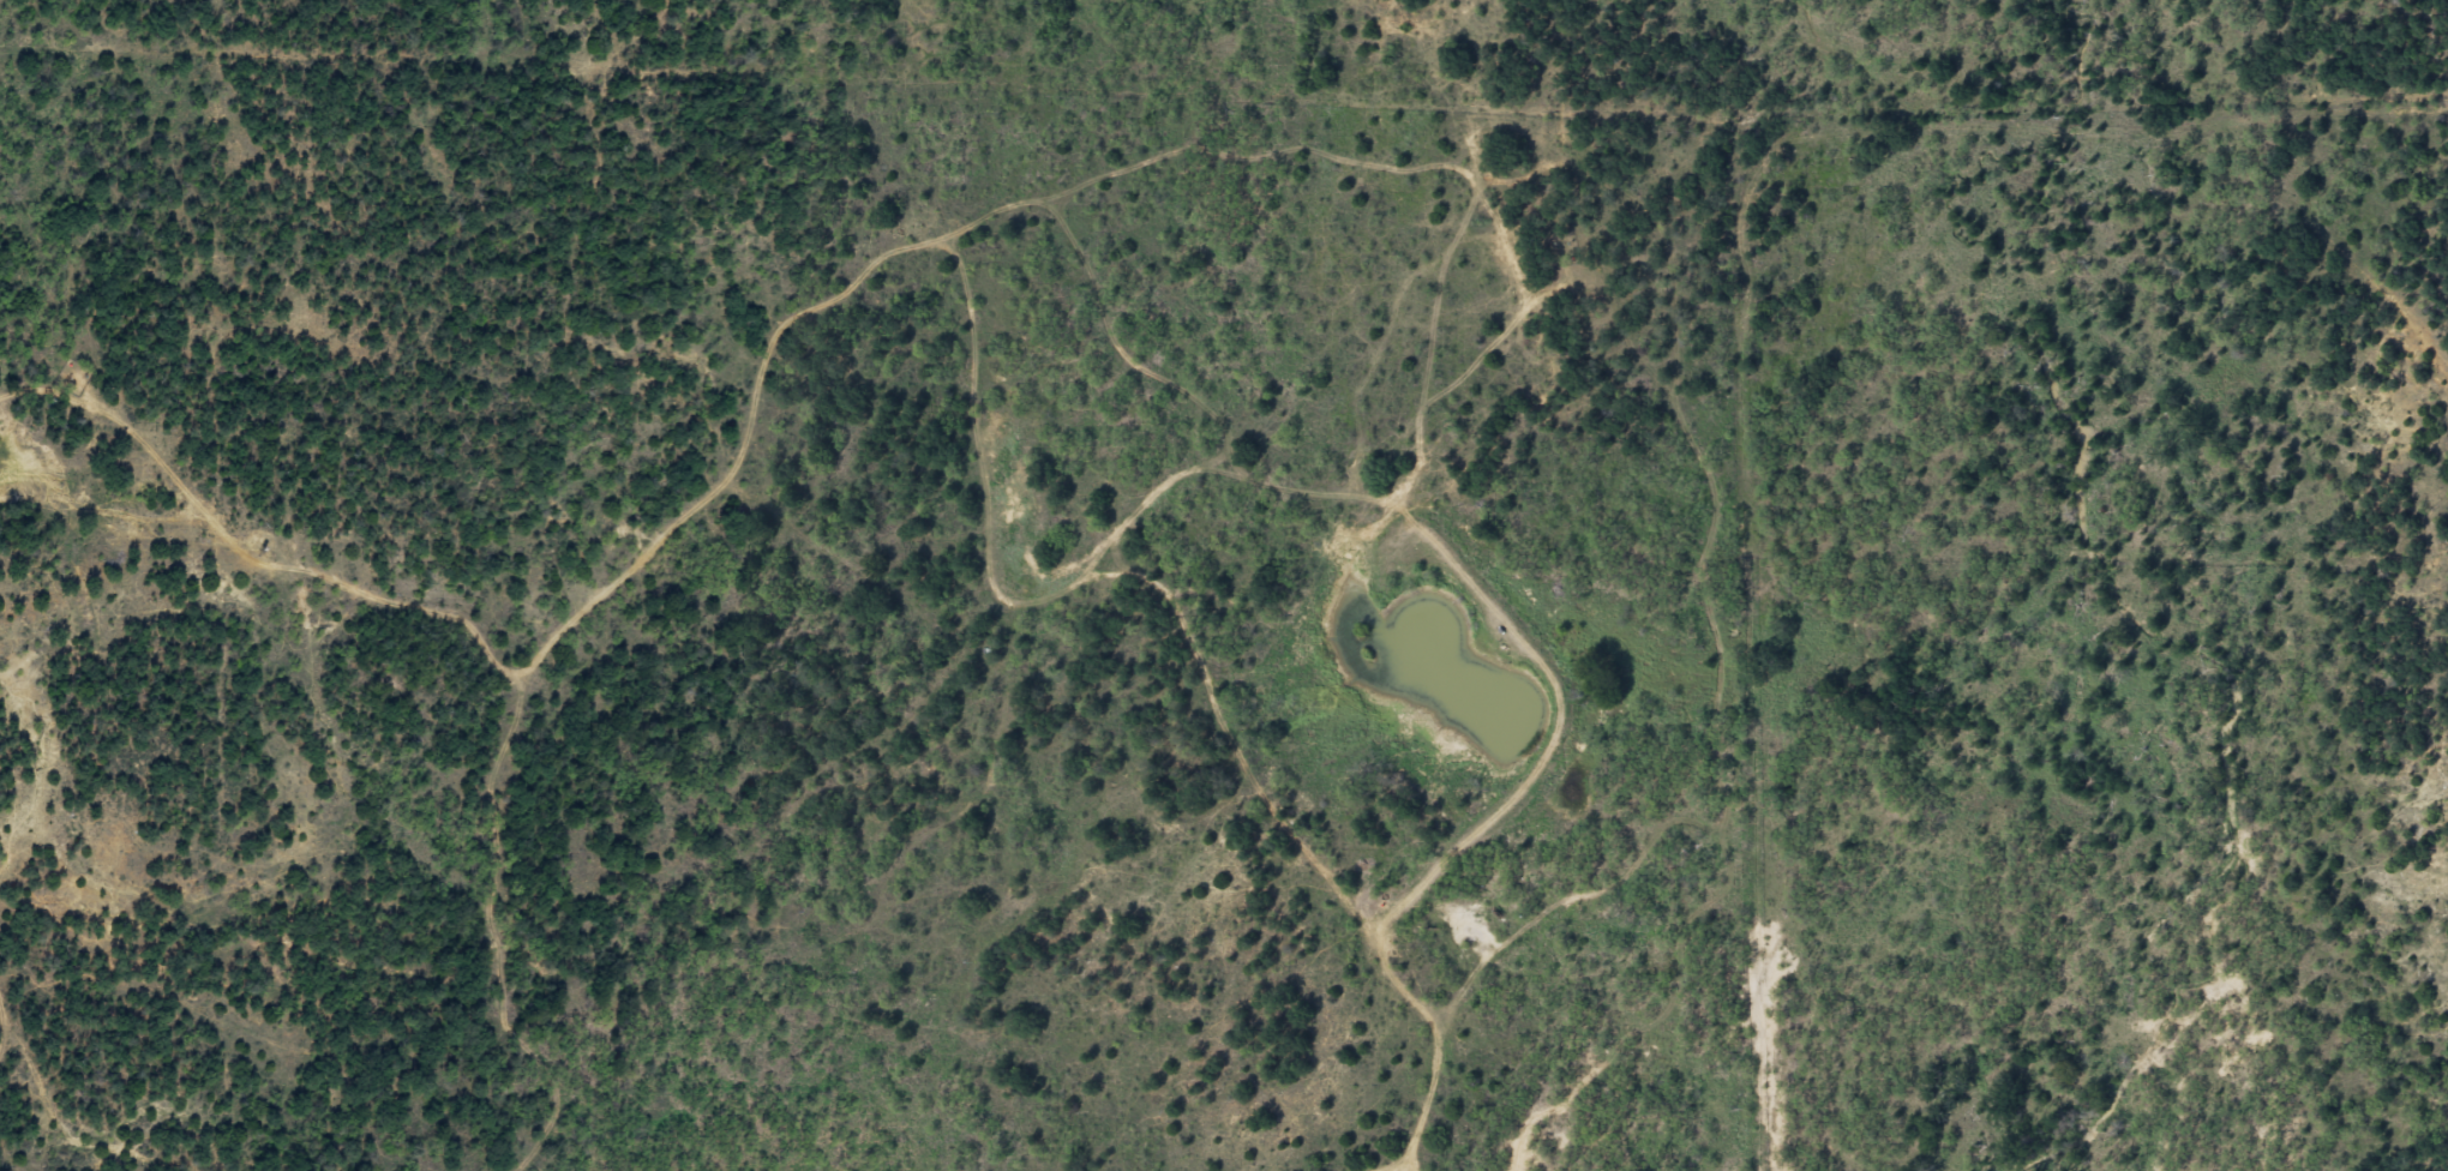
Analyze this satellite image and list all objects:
road: (1673, 960)
road: (1472, 1166)

